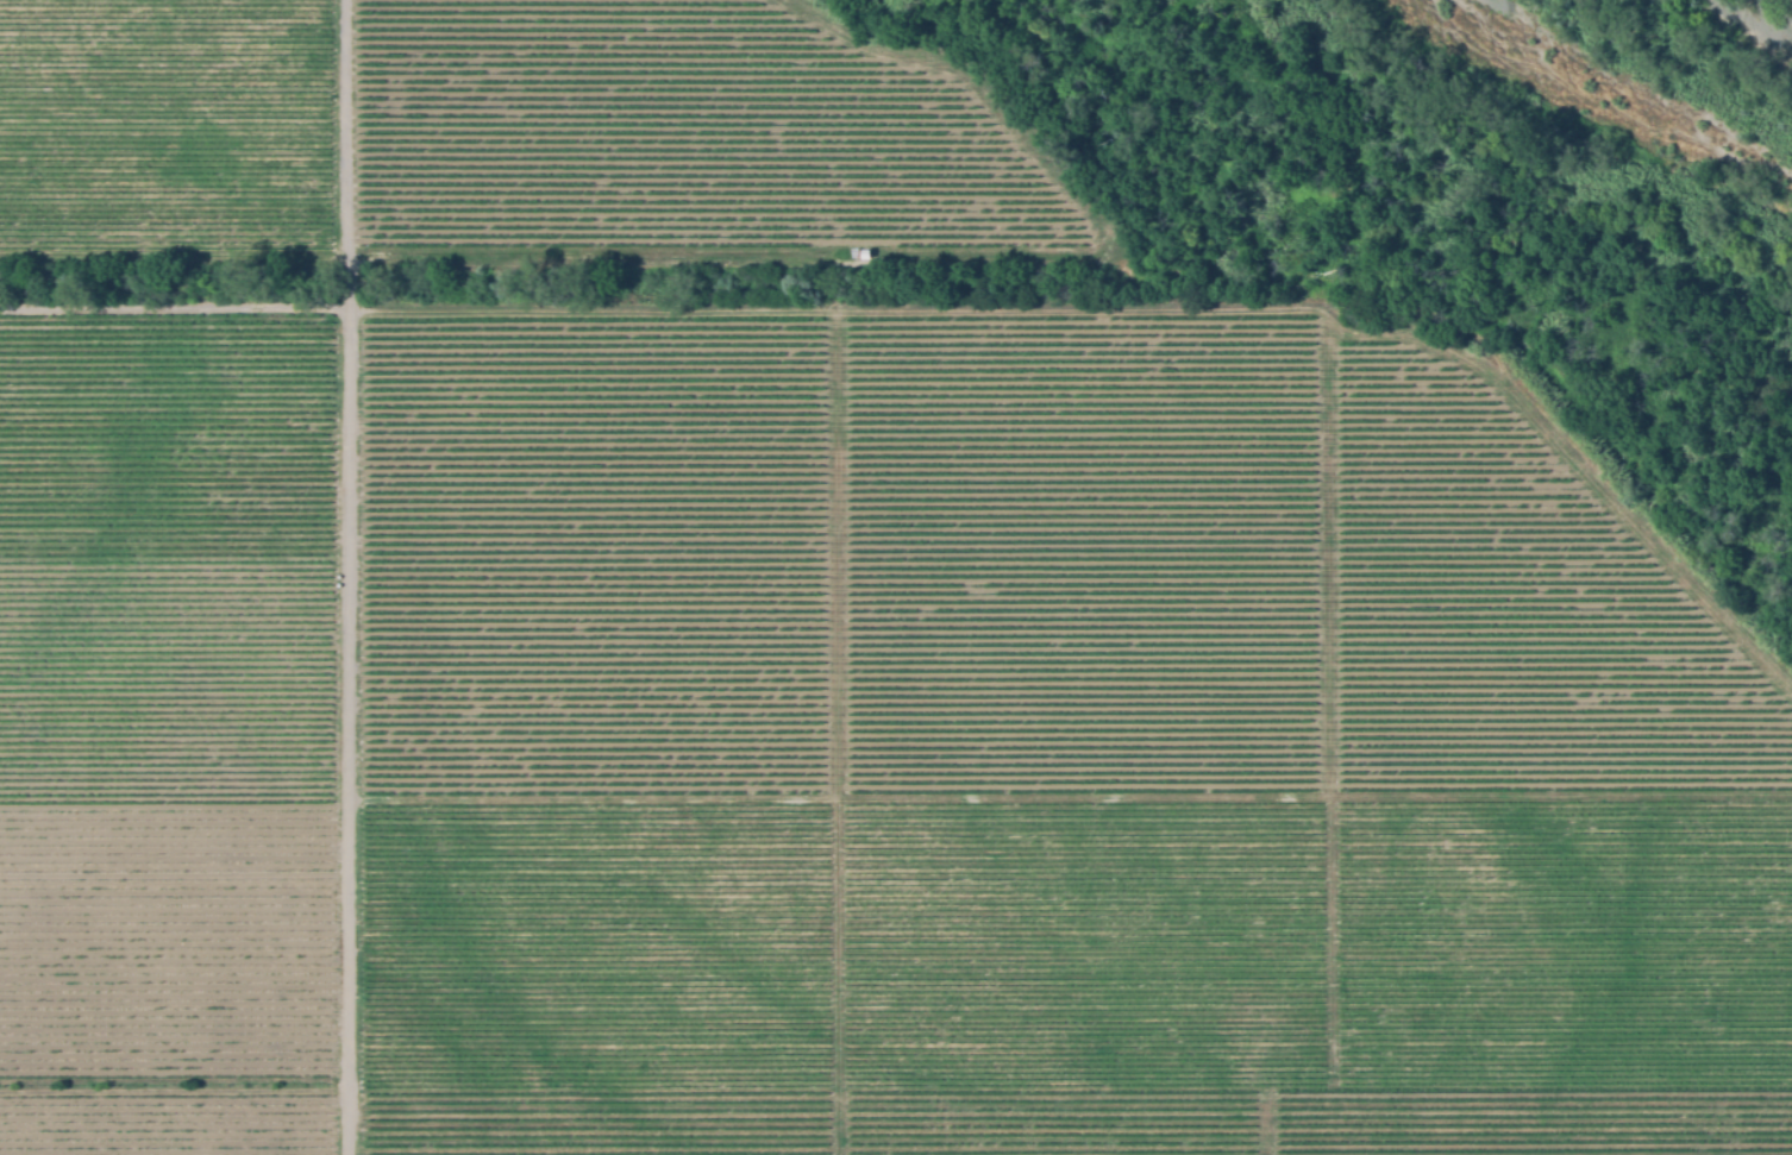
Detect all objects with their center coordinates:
building: (865, 255)
road: (1385, 328)
road: (838, 488)
road: (349, 577)

